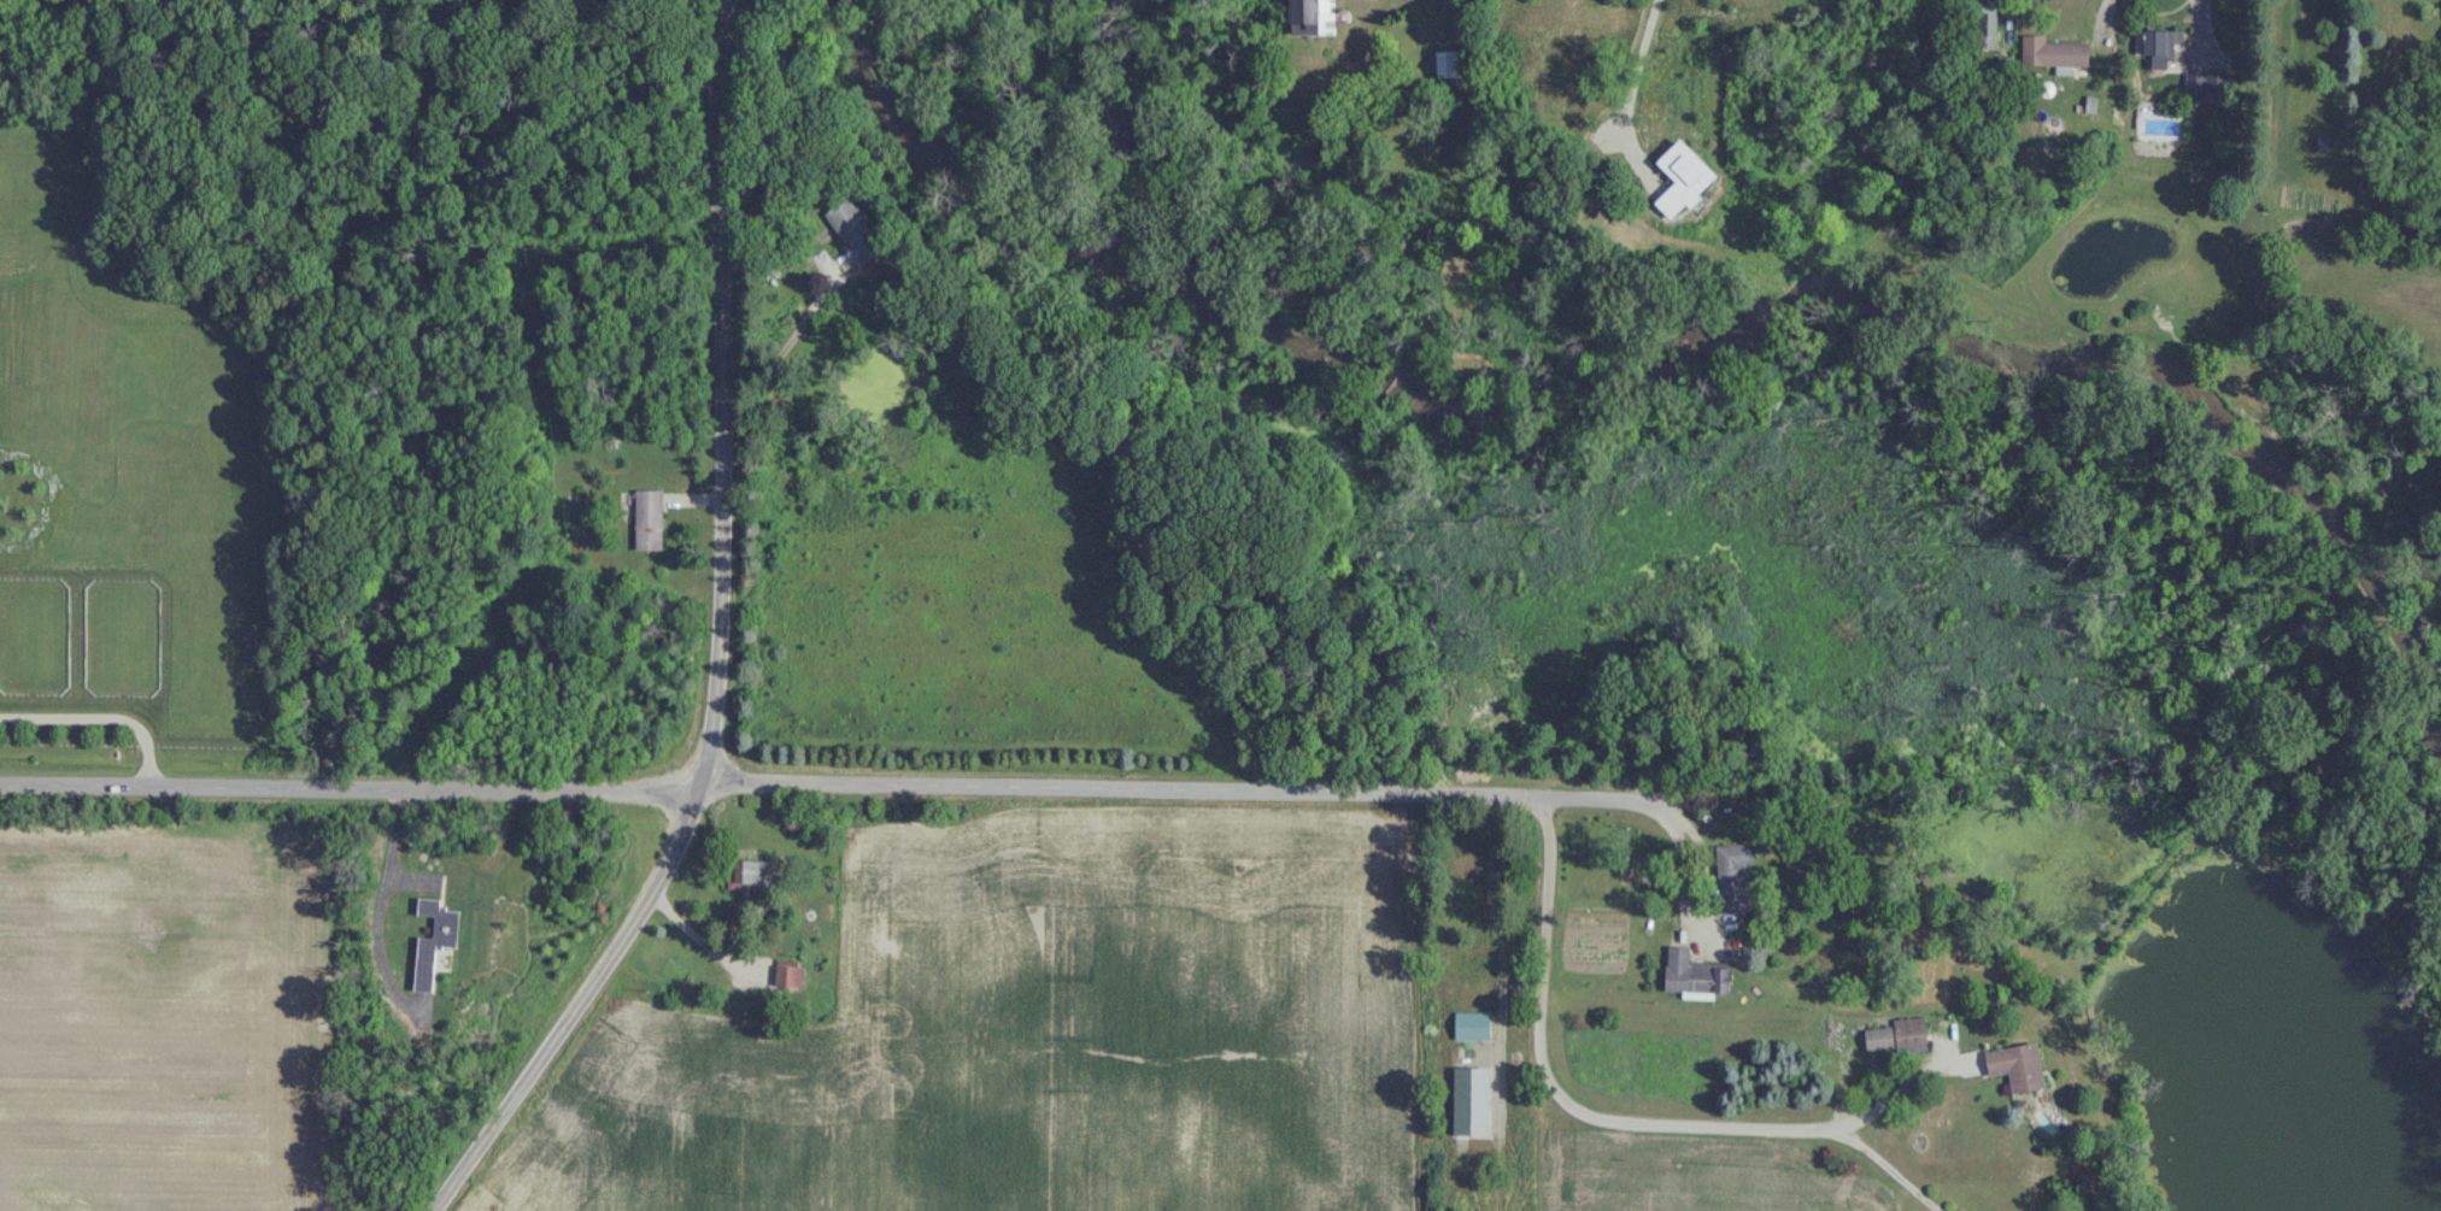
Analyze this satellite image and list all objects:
building: (1310, 16)
building: (1987, 22)
building: (2159, 47)
building: (2052, 51)
building: (1450, 64)
road: (1647, 66)
road: (2272, 70)
building: (2202, 84)
road: (1899, 94)
building: (857, 229)
road: (786, 331)
building: (961, 343)
river: (1665, 355)
road: (730, 393)
building: (649, 519)
road: (100, 721)
road: (1428, 777)
road: (357, 784)
road: (1671, 801)
building: (1465, 863)
building: (749, 874)
building: (1735, 877)
road: (382, 903)
building: (433, 937)
building: (1694, 975)
building: (790, 976)
building: (1447, 981)
road: (586, 1003)
building: (1472, 1025)
building: (1897, 1035)
building: (2017, 1064)
road: (1906, 1086)
road: (1891, 1169)

